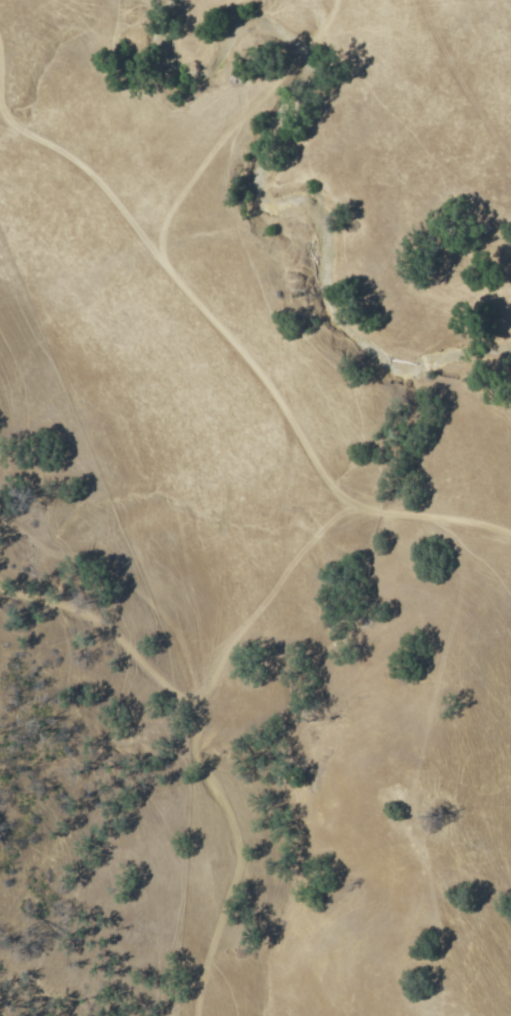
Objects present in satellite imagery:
road: (464, 78)
road: (220, 332)

